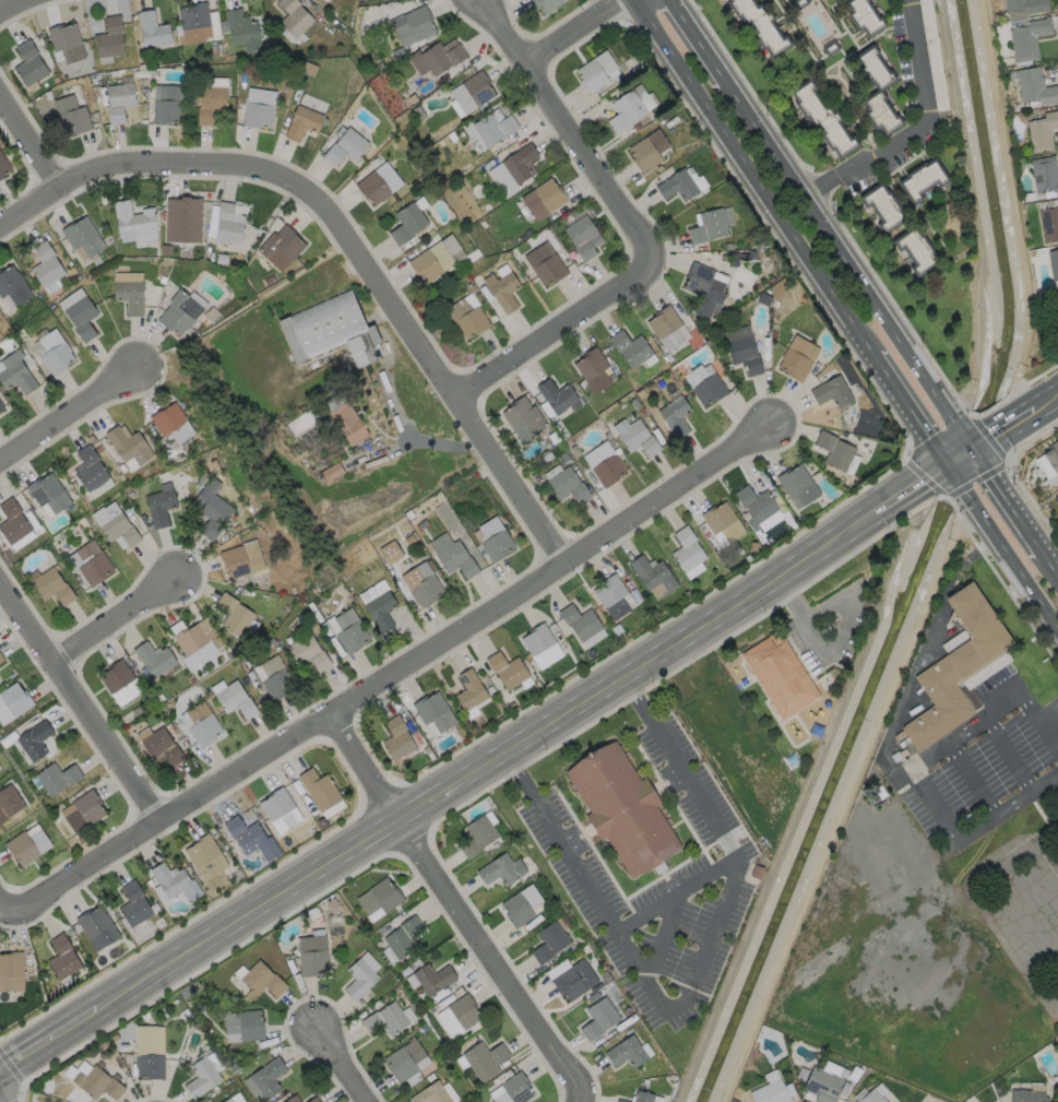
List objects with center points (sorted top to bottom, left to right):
building: (547, 2)
building: (800, 3)
building: (1027, 7)
road: (17, 10)
building: (868, 15)
building: (295, 19)
building: (416, 20)
building: (334, 23)
building: (197, 25)
building: (759, 26)
building: (153, 31)
road: (571, 31)
building: (242, 32)
building: (111, 38)
road: (701, 38)
building: (1030, 39)
building: (68, 46)
building: (832, 49)
building: (440, 51)
building: (935, 56)
building: (33, 64)
building: (384, 66)
building: (142, 68)
building: (309, 69)
building: (878, 69)
building: (595, 73)
building: (57, 81)
building: (473, 85)
building: (1035, 87)
building: (283, 97)
building: (166, 99)
building: (119, 100)
building: (211, 103)
building: (261, 104)
building: (633, 106)
building: (1015, 109)
building: (885, 112)
building: (420, 115)
building: (71, 117)
building: (306, 118)
building: (827, 120)
building: (492, 121)
road: (920, 127)
building: (638, 128)
building: (1043, 133)
building: (451, 138)
road: (29, 140)
building: (347, 142)
building: (441, 144)
building: (652, 150)
building: (514, 164)
building: (4, 166)
building: (1046, 175)
building: (380, 178)
building: (423, 179)
road: (753, 179)
building: (927, 181)
building: (685, 185)
building: (413, 186)
building: (545, 197)
building: (1029, 197)
building: (885, 209)
building: (408, 217)
building: (183, 223)
building: (228, 224)
building: (484, 224)
building: (1049, 224)
building: (133, 226)
building: (710, 228)
road: (631, 229)
building: (584, 230)
building: (432, 233)
building: (85, 240)
road: (347, 240)
road: (842, 242)
building: (729, 247)
building: (286, 248)
building: (198, 251)
building: (917, 252)
building: (438, 253)
building: (206, 257)
building: (754, 257)
building: (547, 258)
building: (223, 259)
building: (1054, 264)
building: (48, 266)
building: (78, 277)
building: (164, 281)
building: (271, 281)
building: (706, 285)
building: (14, 288)
building: (472, 289)
building: (504, 289)
building: (131, 295)
building: (1057, 311)
building: (80, 315)
building: (181, 316)
building: (469, 318)
building: (495, 319)
building: (0, 322)
building: (669, 331)
building: (24, 334)
building: (334, 334)
building: (774, 334)
building: (634, 351)
building: (746, 352)
building: (55, 354)
building: (670, 358)
building: (799, 360)
building: (664, 367)
building: (596, 372)
building: (17, 376)
building: (704, 386)
building: (642, 394)
building: (834, 394)
building: (558, 398)
road: (1046, 400)
building: (2, 403)
building: (1, 410)
road: (904, 412)
building: (644, 415)
road: (67, 417)
building: (676, 419)
building: (526, 420)
building: (174, 424)
road: (1006, 424)
road: (966, 425)
building: (352, 428)
building: (608, 436)
building: (637, 436)
building: (555, 438)
building: (91, 439)
building: (307, 441)
building: (100, 449)
building: (132, 449)
building: (575, 450)
building: (837, 452)
road: (959, 453)
building: (566, 457)
building: (1053, 457)
building: (548, 458)
building: (607, 465)
road: (934, 470)
building: (333, 472)
building: (95, 474)
road: (952, 483)
building: (569, 487)
building: (803, 489)
road: (902, 490)
road: (1012, 491)
building: (129, 494)
building: (51, 496)
building: (161, 506)
building: (757, 507)
building: (128, 510)
building: (212, 512)
building: (34, 522)
building: (14, 523)
building: (84, 523)
building: (117, 525)
building: (724, 525)
building: (76, 533)
building: (44, 534)
building: (495, 541)
building: (390, 552)
road: (1053, 552)
building: (691, 554)
building: (456, 560)
building: (243, 561)
building: (94, 565)
road: (1011, 568)
building: (656, 579)
building: (424, 585)
building: (52, 588)
building: (616, 600)
building: (379, 607)
building: (239, 618)
road: (117, 621)
building: (583, 627)
building: (349, 633)
building: (199, 647)
building: (543, 649)
road: (836, 650)
building: (308, 655)
building: (1, 661)
building: (157, 663)
building: (961, 668)
road: (391, 671)
building: (509, 674)
building: (784, 677)
building: (276, 682)
building: (123, 686)
building: (473, 697)
road: (81, 699)
building: (237, 701)
building: (13, 706)
building: (435, 716)
building: (203, 726)
parking lot: (725, 739)
building: (33, 745)
building: (401, 745)
building: (164, 747)
road: (488, 760)
road: (915, 775)
building: (59, 782)
building: (321, 792)
building: (11, 804)
building: (625, 811)
building: (88, 813)
building: (281, 813)
building: (476, 836)
building: (251, 839)
building: (24, 852)
building: (207, 858)
building: (499, 869)
building: (177, 886)
road: (676, 894)
building: (379, 897)
building: (136, 905)
road: (457, 905)
building: (520, 905)
road: (3, 912)
building: (102, 931)
building: (403, 937)
road: (663, 937)
building: (549, 941)
building: (311, 956)
building: (64, 958)
building: (11, 974)
building: (358, 979)
building: (432, 979)
building: (261, 980)
road: (694, 981)
building: (573, 982)
building: (463, 1011)
building: (597, 1018)
building: (384, 1019)
building: (243, 1026)
road: (49, 1040)
building: (147, 1052)
building: (626, 1052)
building: (484, 1059)
road: (346, 1060)
building: (403, 1060)
building: (201, 1078)
building: (263, 1080)
building: (96, 1082)
building: (821, 1086)
building: (515, 1088)
building: (768, 1093)
building: (430, 1094)
building: (1025, 1095)
building: (641, 1097)
building: (870, 1097)
road: (1, 1100)
building: (226, 1100)
building: (290, 1100)
building: (312, 1100)
building: (619, 1101)
building: (854, 1101)

